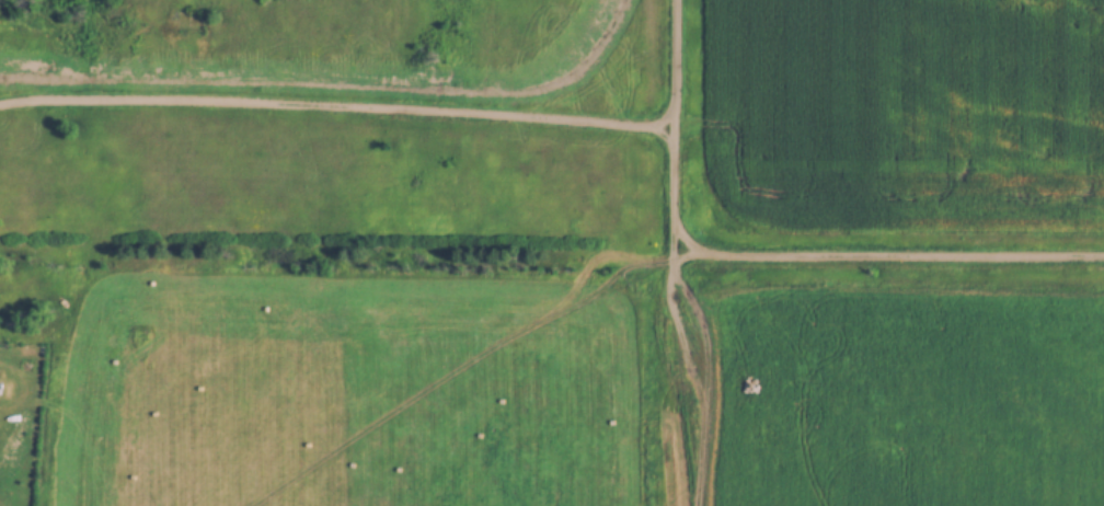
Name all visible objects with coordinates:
road: (678, 129)
road: (890, 258)

